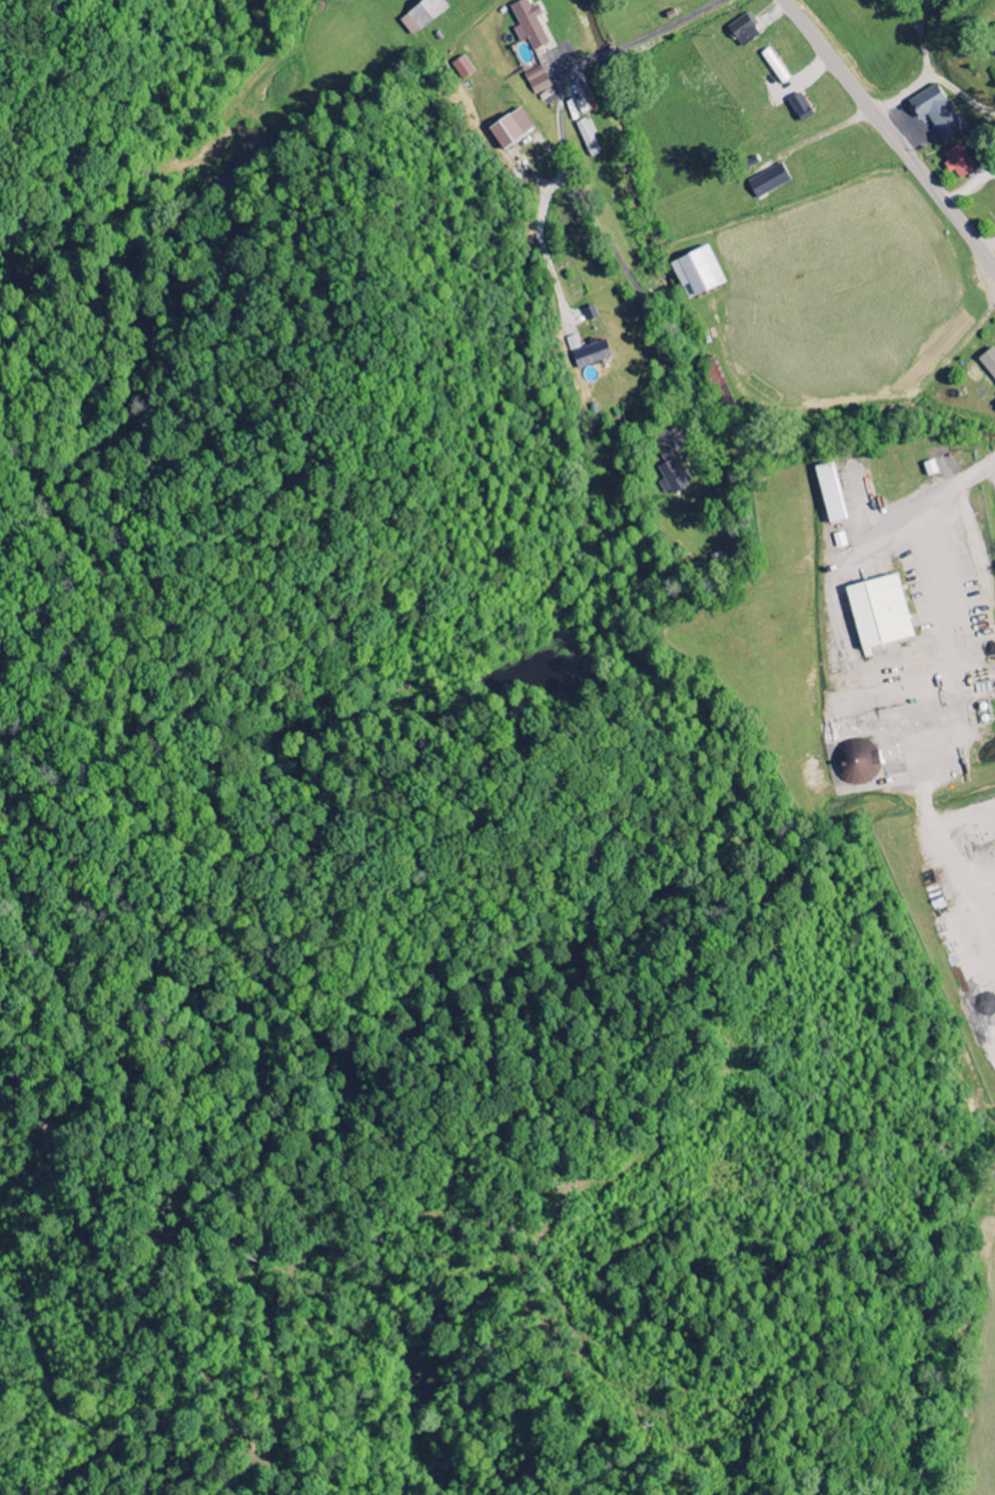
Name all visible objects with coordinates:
building: (421, 15)
building: (528, 25)
building: (744, 30)
building: (992, 39)
building: (775, 66)
building: (463, 68)
building: (537, 81)
building: (798, 105)
building: (936, 112)
building: (509, 129)
road: (889, 132)
building: (589, 137)
building: (958, 162)
road: (567, 168)
building: (769, 182)
building: (697, 273)
building: (591, 314)
building: (589, 353)
building: (994, 405)
building: (930, 469)
building: (673, 477)
building: (829, 494)
building: (878, 613)
building: (856, 762)

